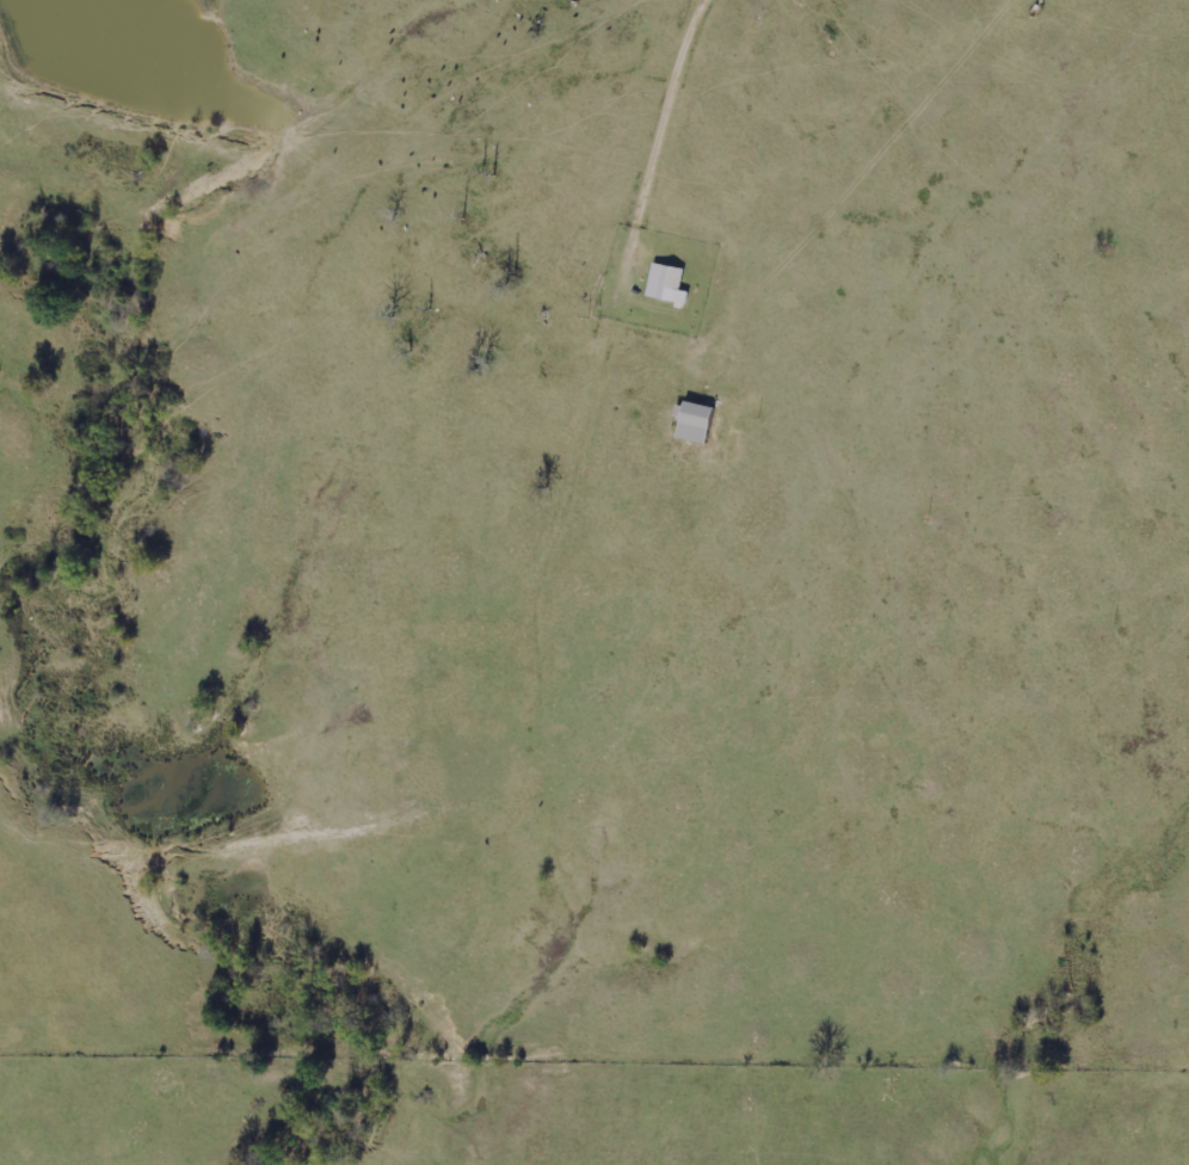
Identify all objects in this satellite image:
road: (663, 129)
building: (667, 283)
building: (696, 421)

